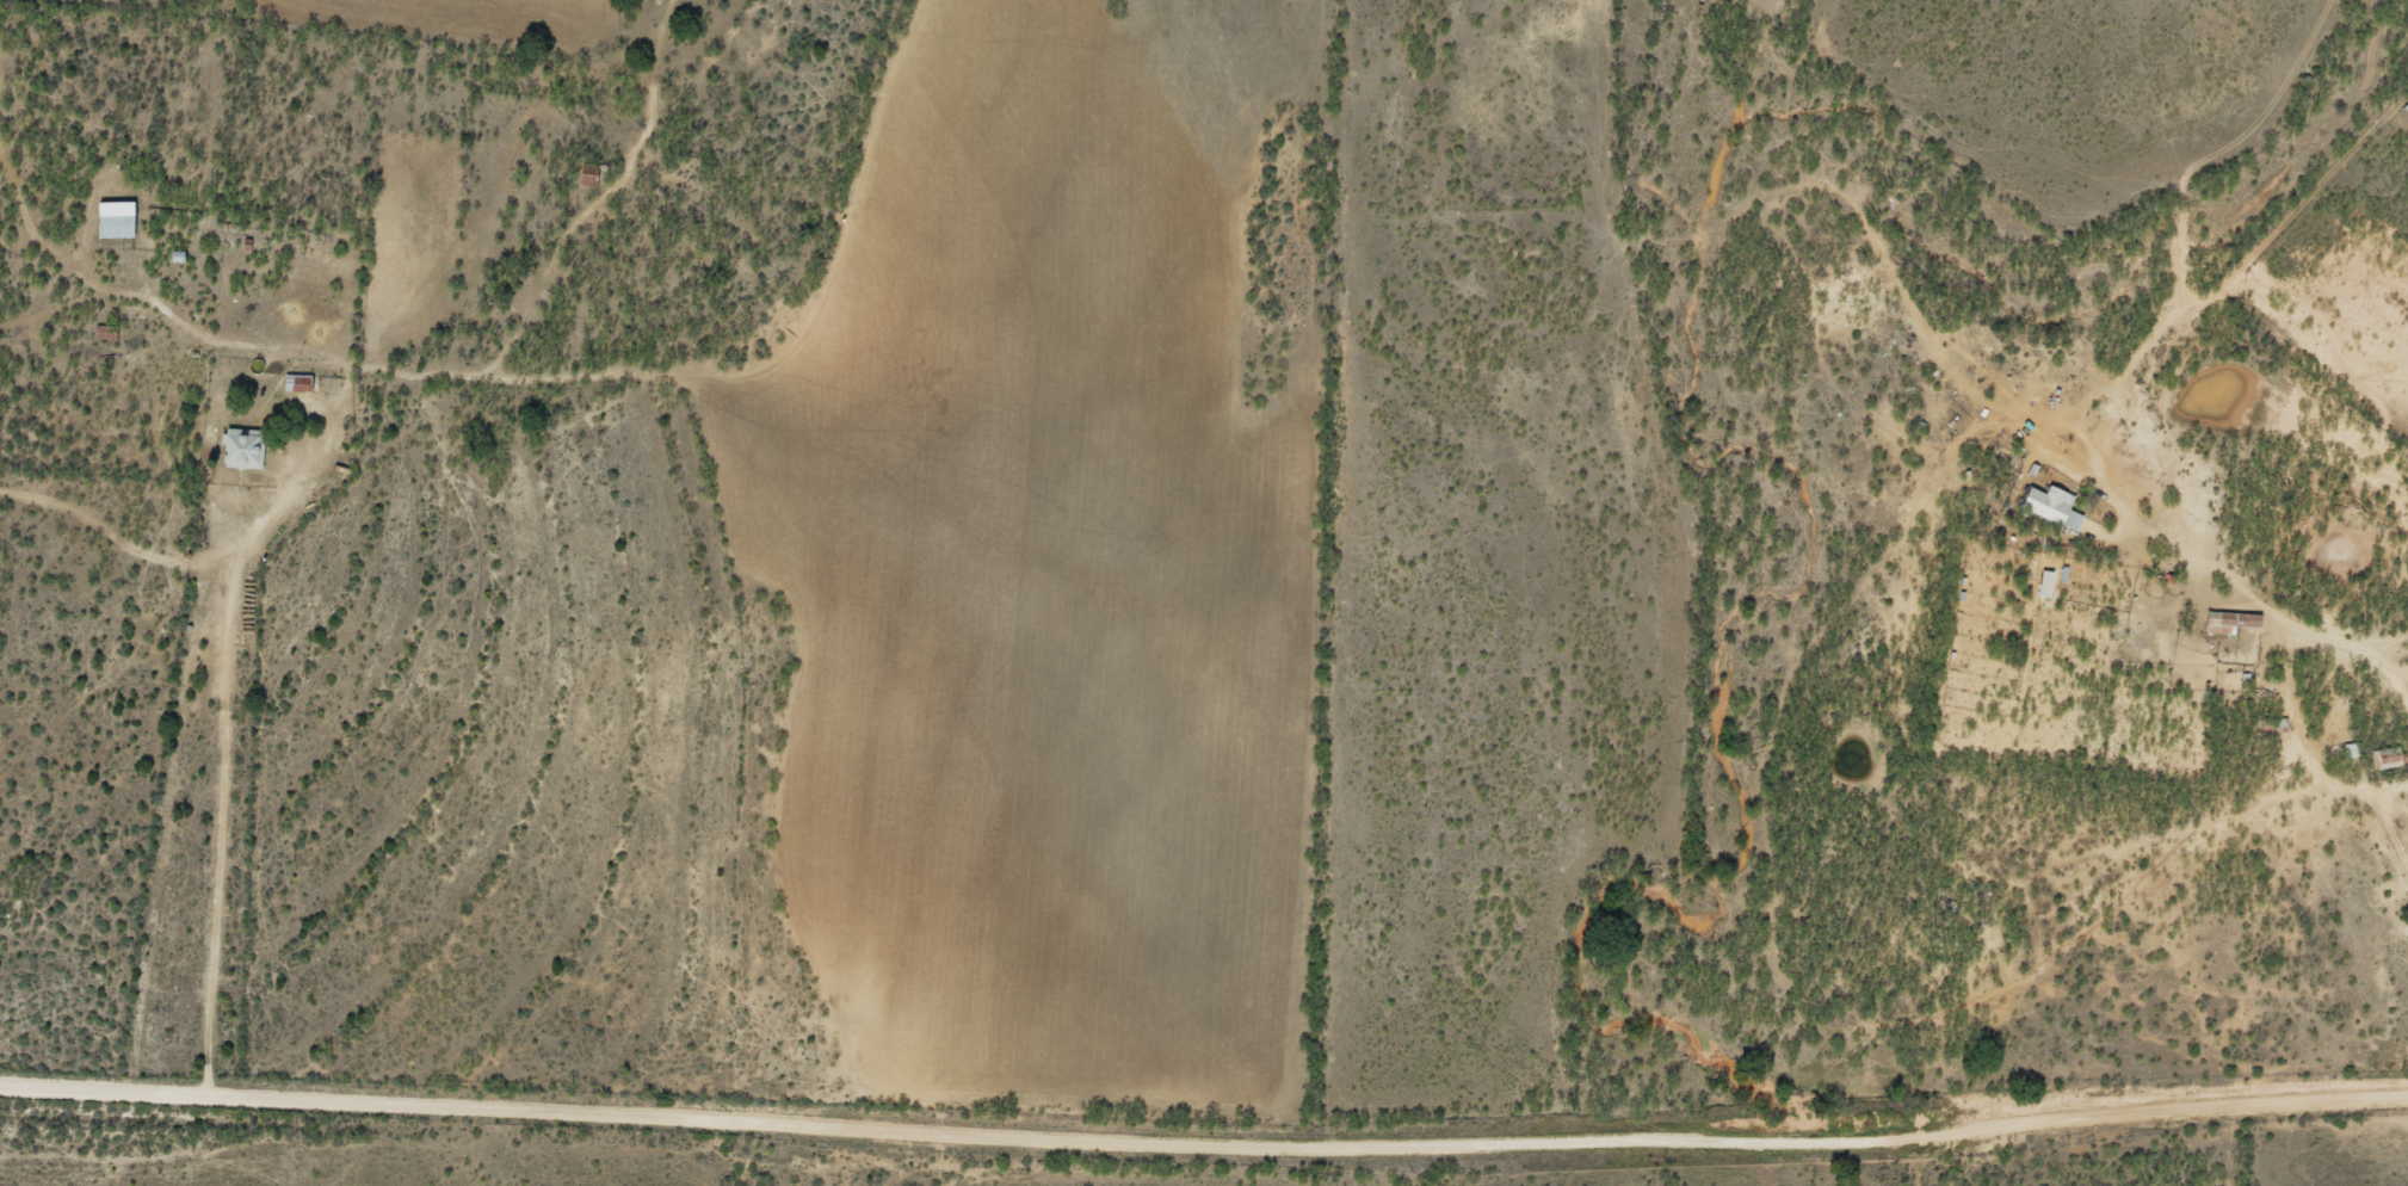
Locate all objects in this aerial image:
building: (119, 218)
building: (303, 382)
building: (246, 446)
building: (2055, 505)
building: (2046, 583)
road: (2250, 603)
building: (2233, 622)
building: (2390, 755)
road: (221, 766)
road: (1204, 1148)

